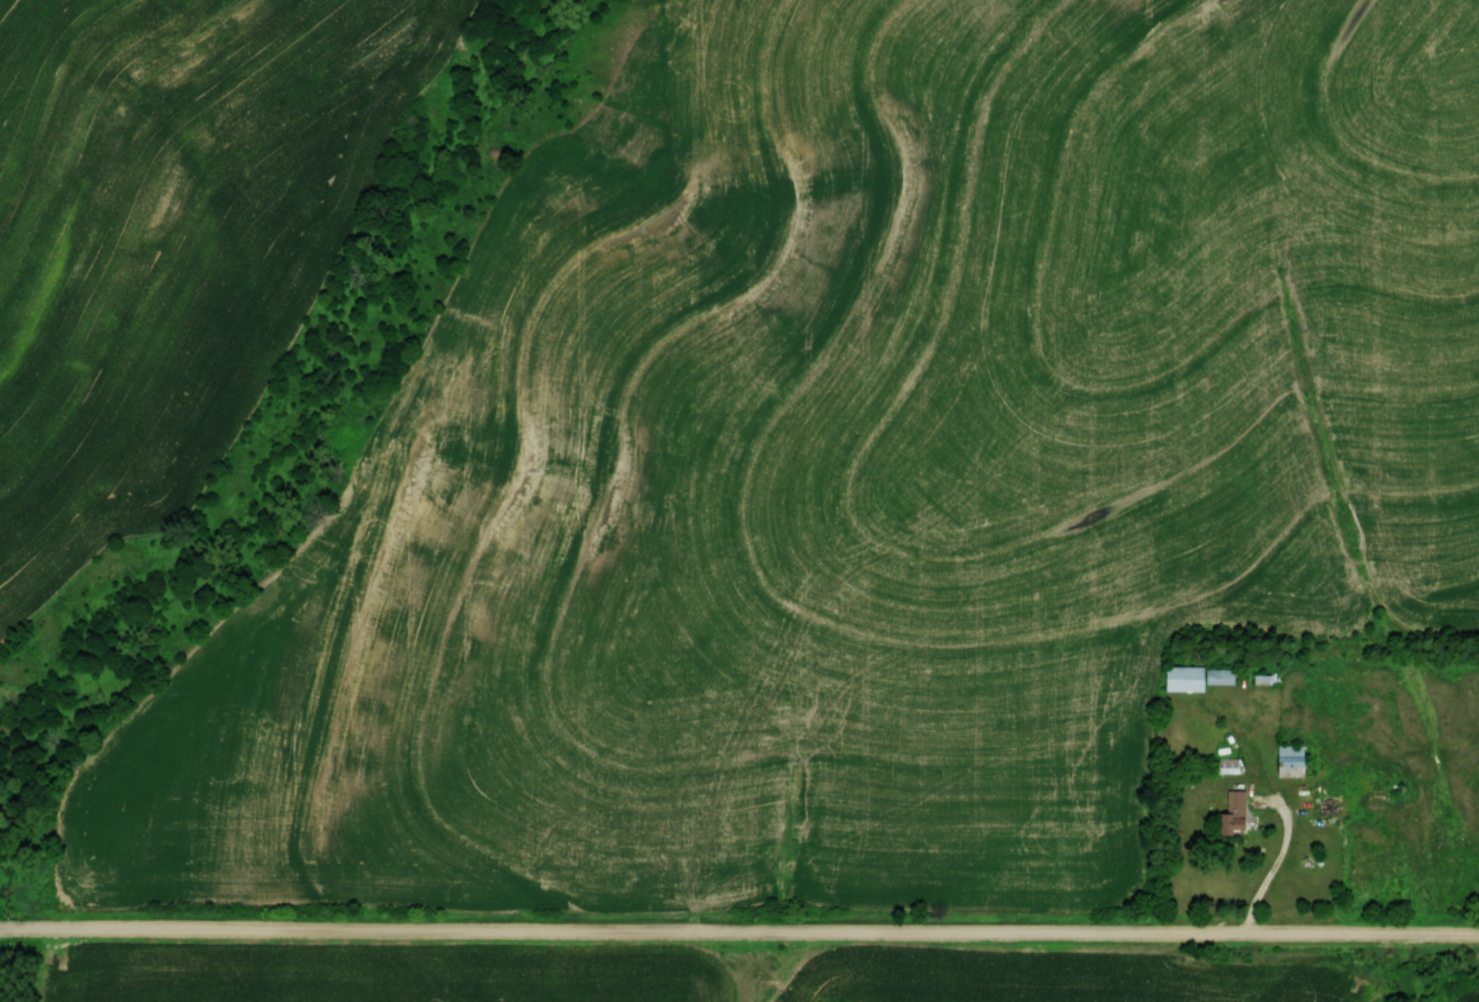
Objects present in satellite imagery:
building: (1218, 675)
building: (1182, 676)
building: (1288, 759)
building: (1226, 764)
building: (1326, 804)
building: (1231, 812)
building: (1309, 861)
road: (1281, 867)
road: (739, 934)

